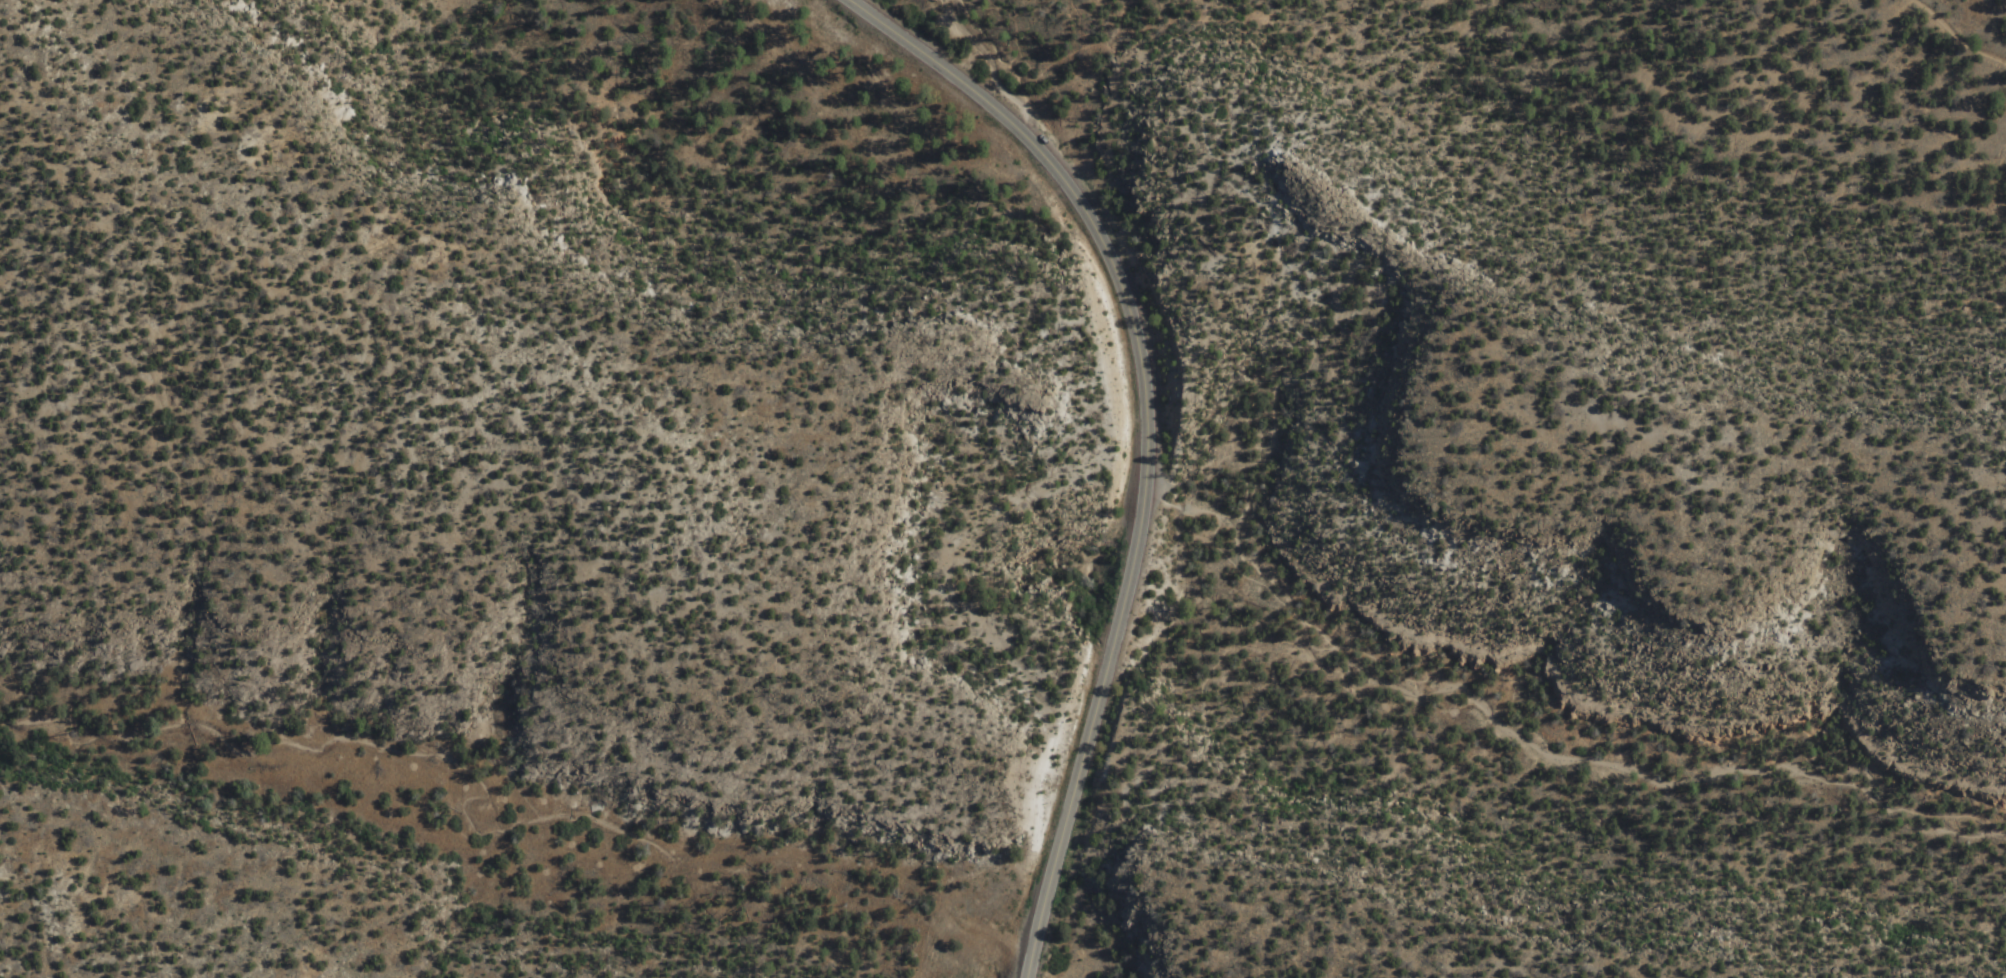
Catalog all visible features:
road: (1963, 23)
road: (1012, 58)
road: (1274, 230)
road: (1142, 437)
road: (1537, 752)

